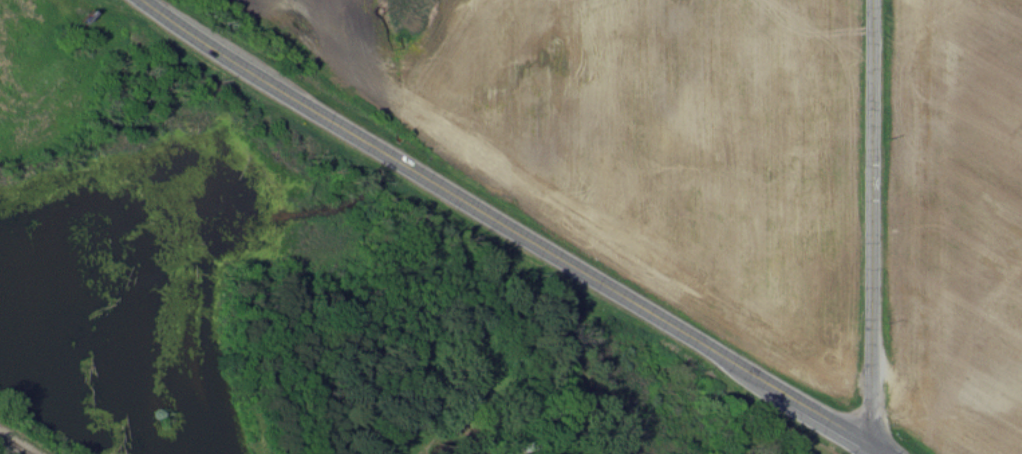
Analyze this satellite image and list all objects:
road: (873, 226)
road: (517, 231)
railway: (12, 446)

